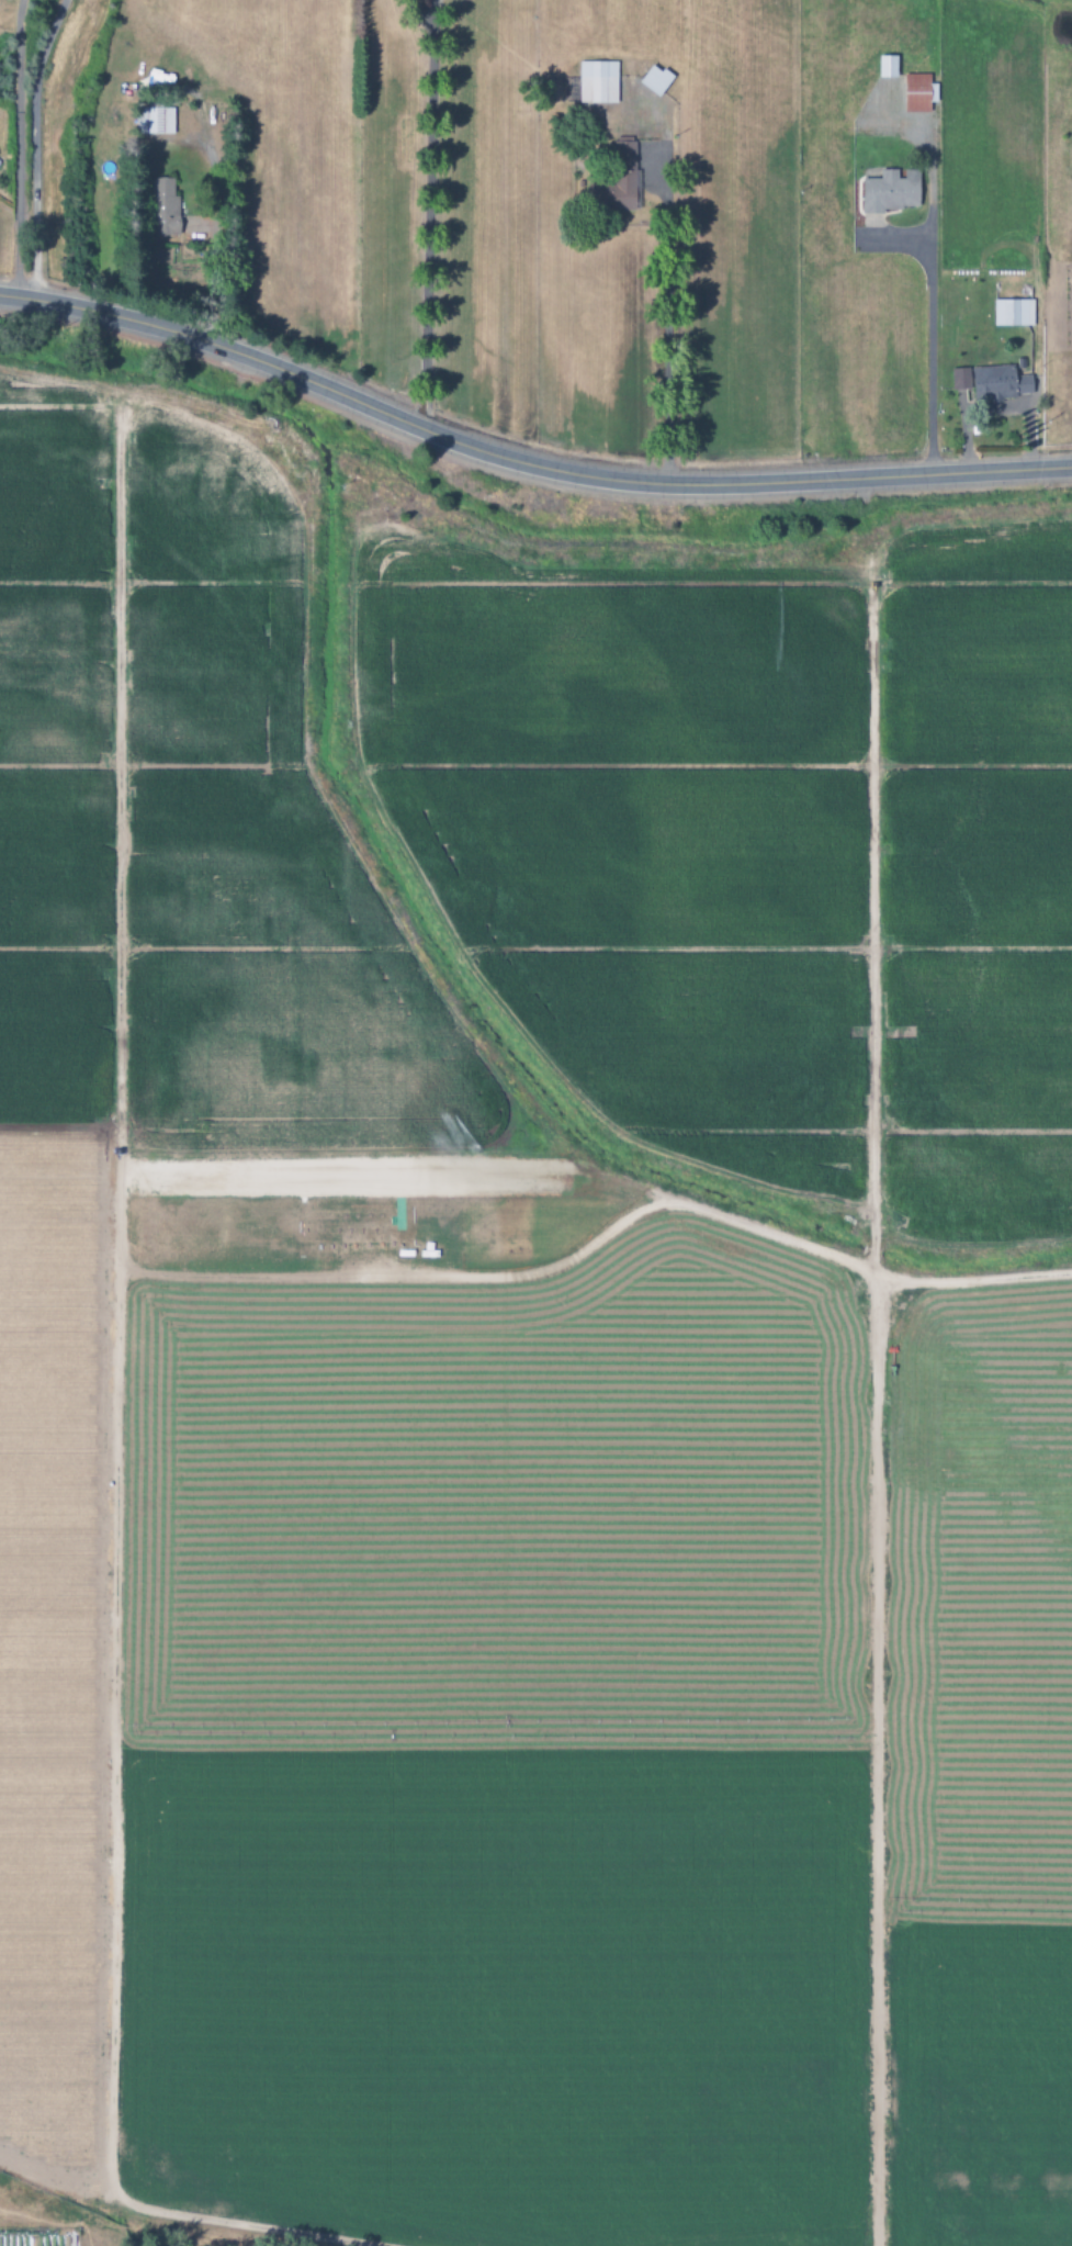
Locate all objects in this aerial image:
building: (887, 66)
building: (654, 80)
building: (597, 82)
building: (918, 92)
building: (154, 121)
road: (19, 148)
building: (891, 192)
crop: (599, 205)
building: (163, 207)
road: (425, 221)
building: (1013, 313)
building: (993, 382)
road: (522, 463)
crop: (427, 1352)
crop: (971, 1381)

